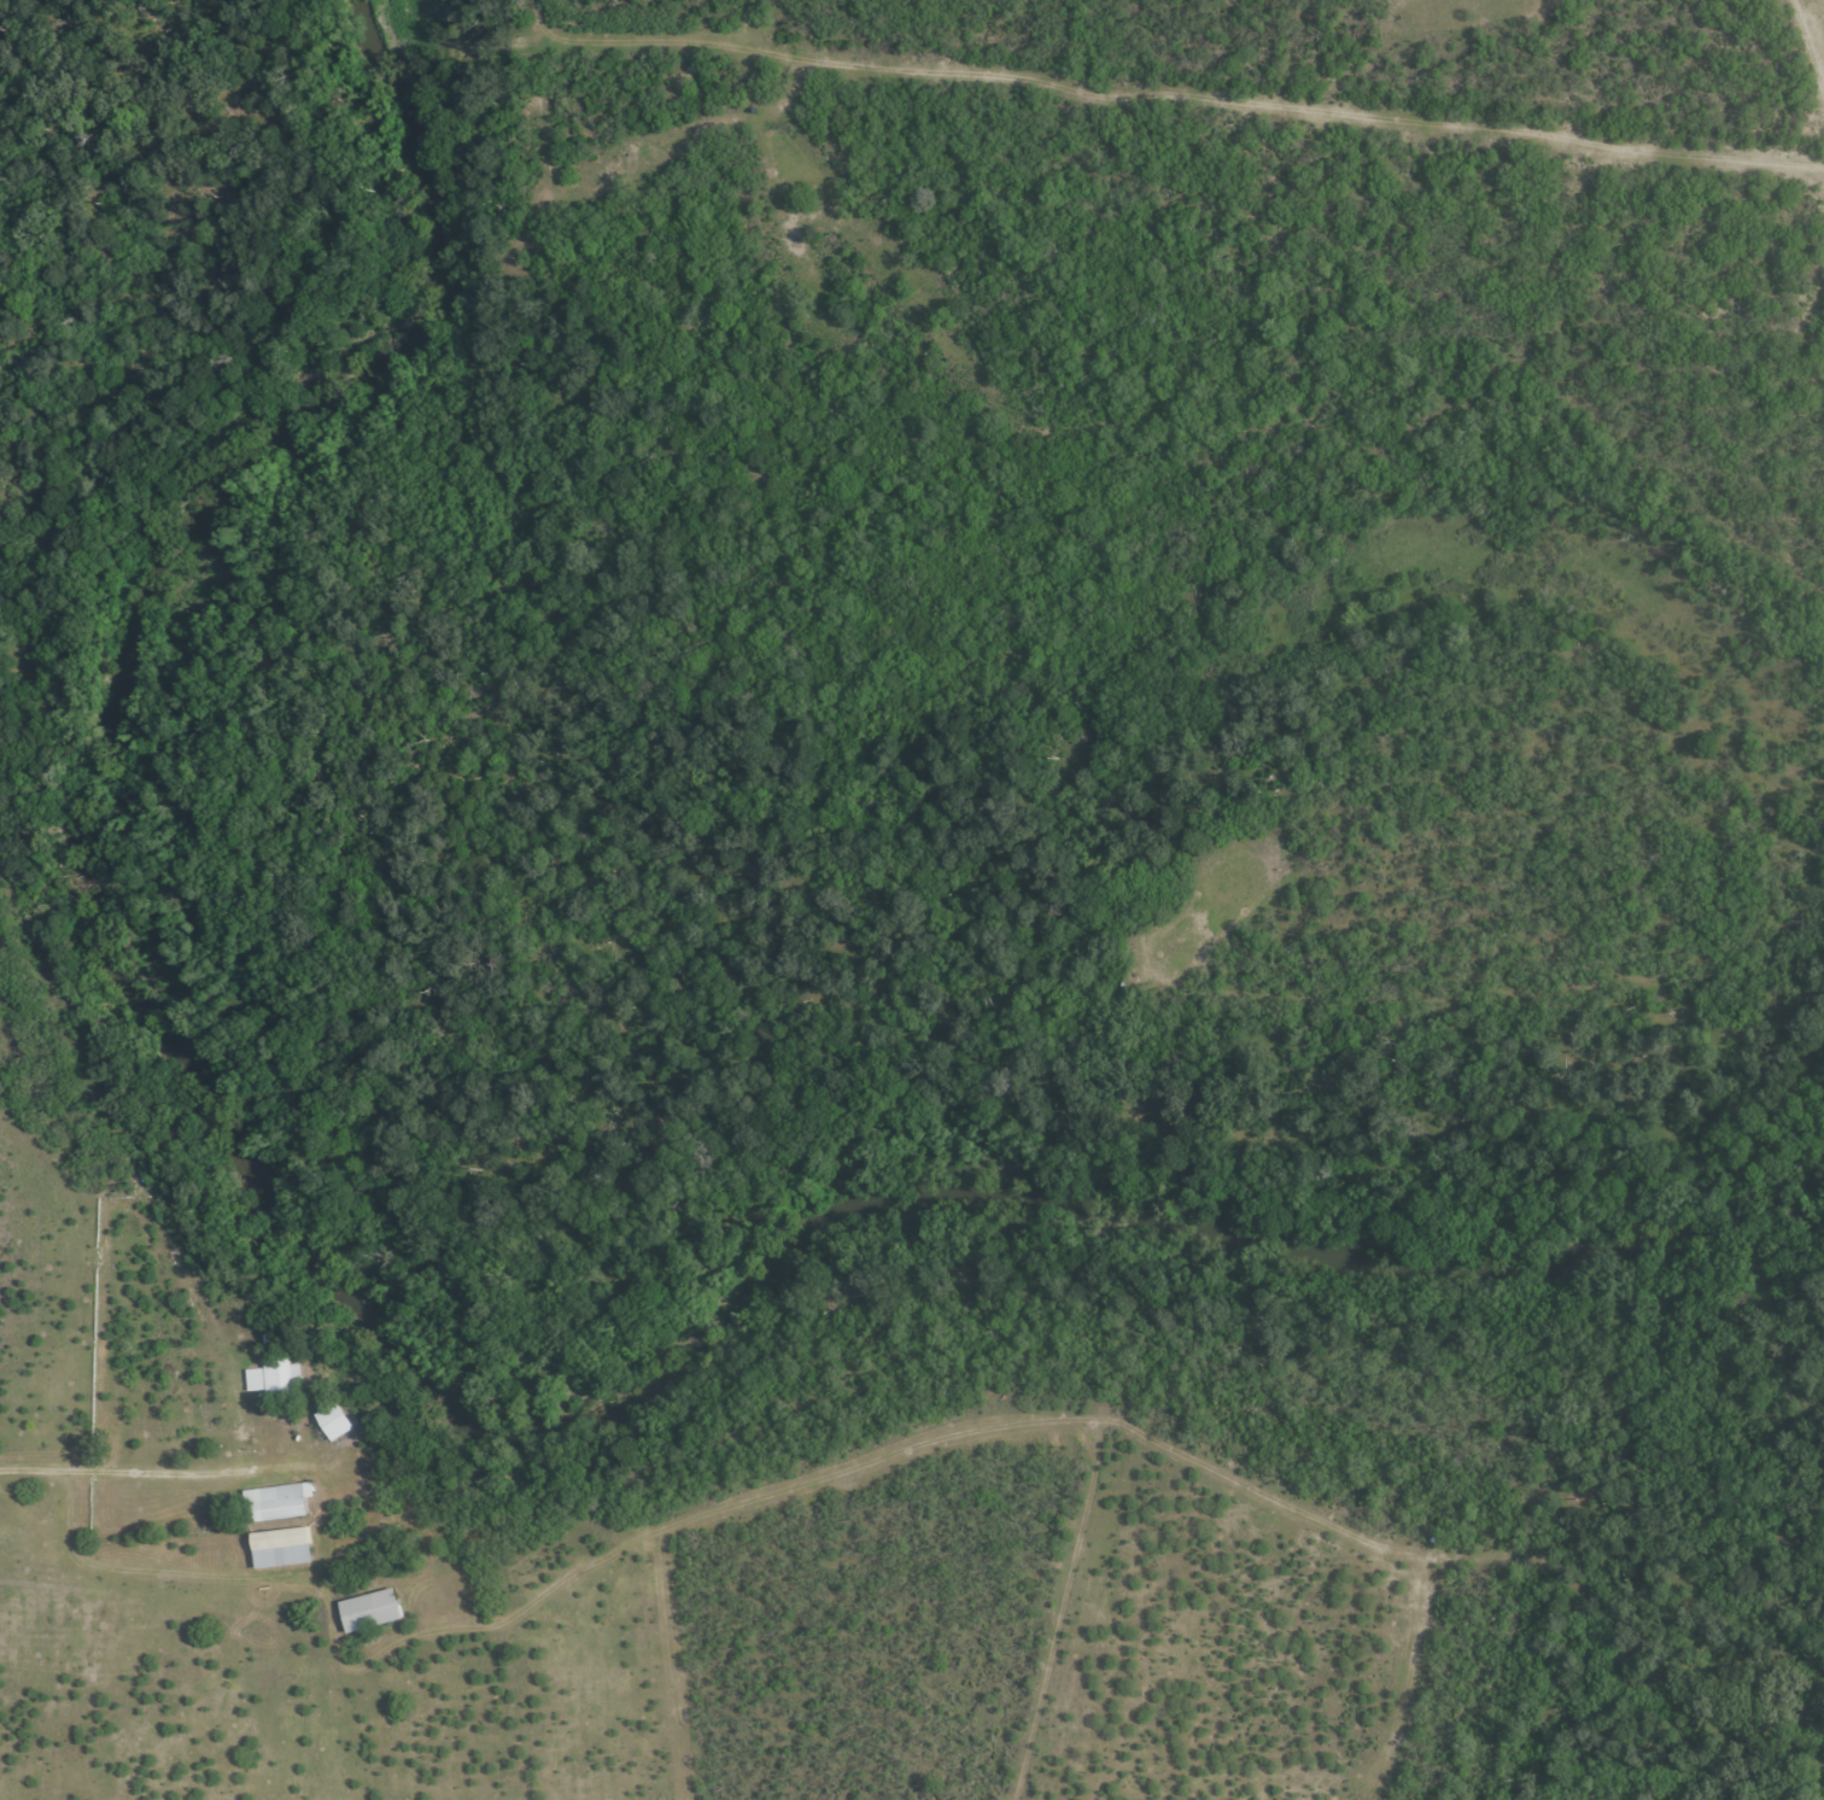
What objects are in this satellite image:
river: (380, 1364)
building: (273, 1373)
building: (335, 1421)
building: (276, 1502)
building: (281, 1549)
building: (368, 1611)

